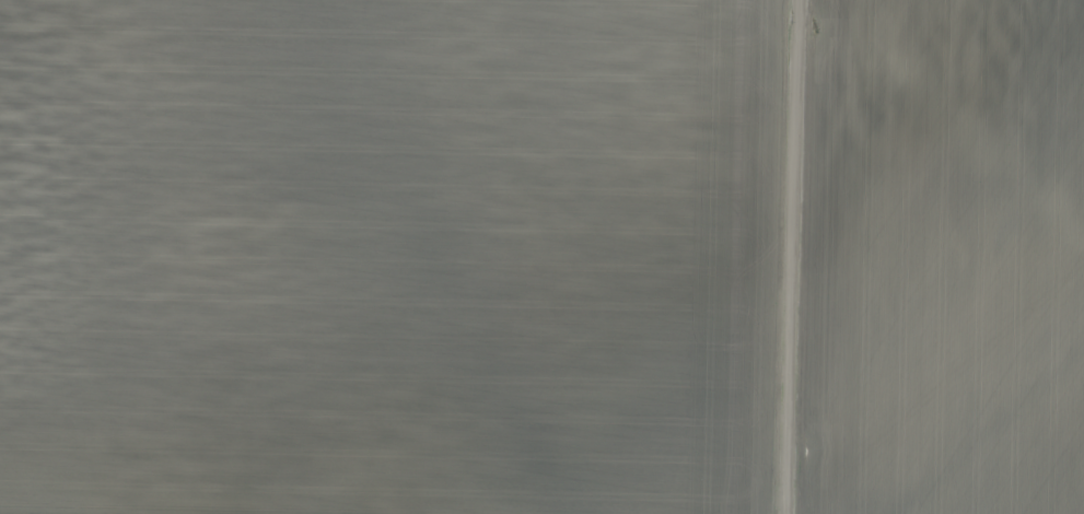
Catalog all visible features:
road: (802, 257)

